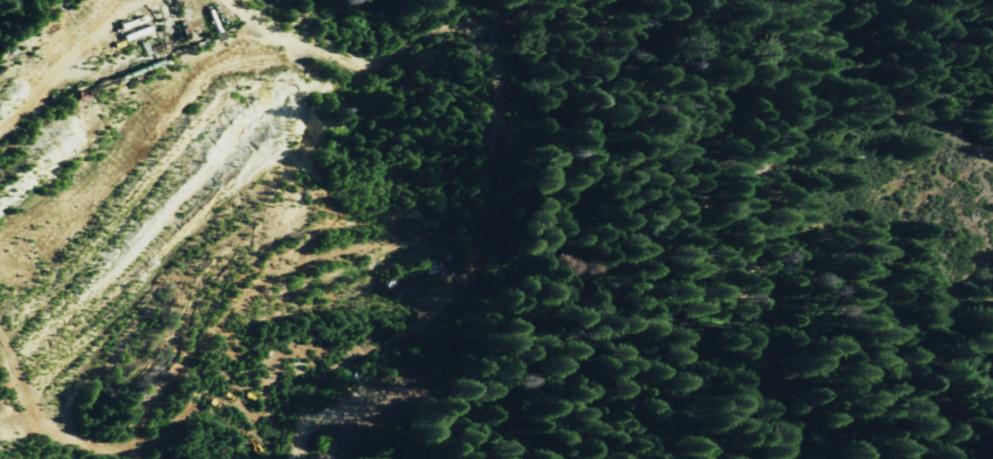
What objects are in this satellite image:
quarry: (230, 217)
road: (299, 450)

